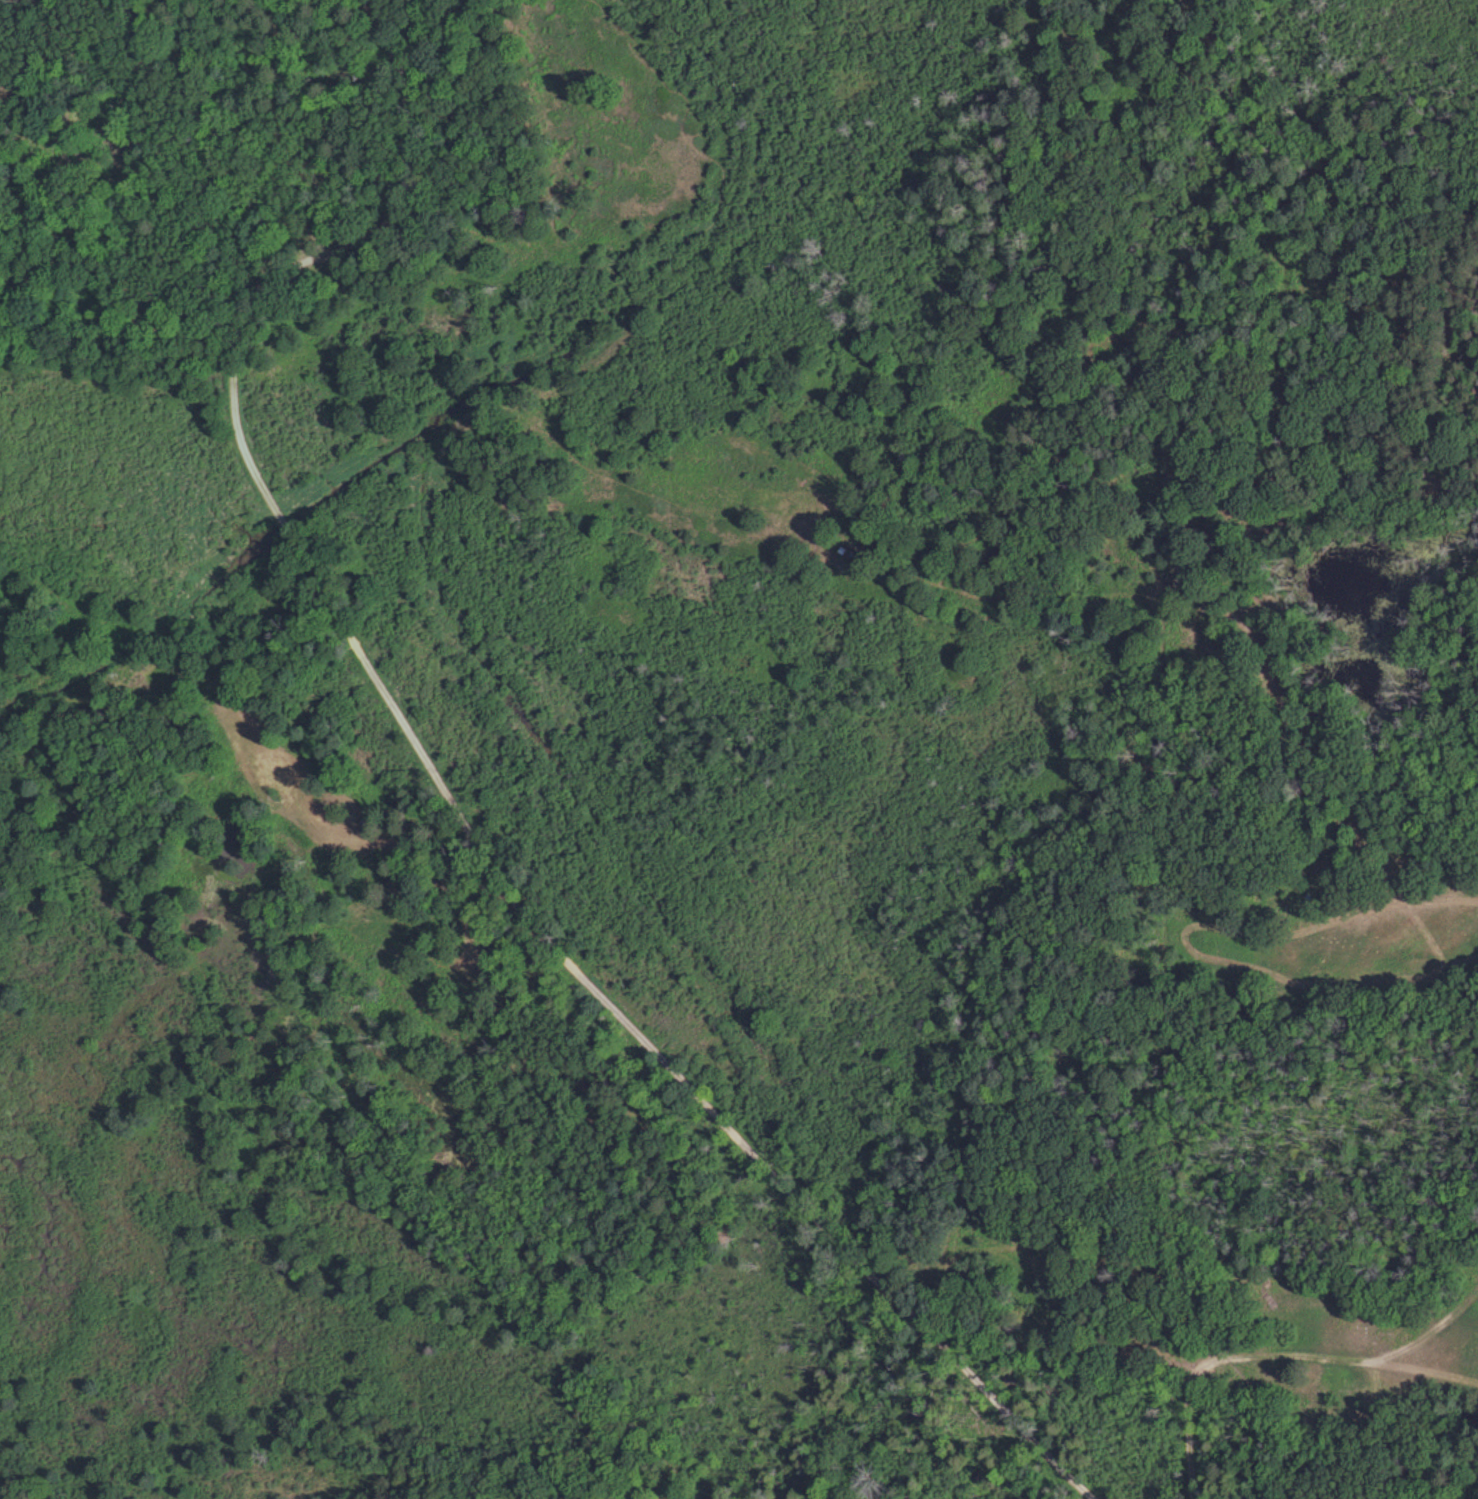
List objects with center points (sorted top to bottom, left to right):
road: (341, 248)
road: (274, 503)
road: (649, 1051)
road: (1280, 1355)

